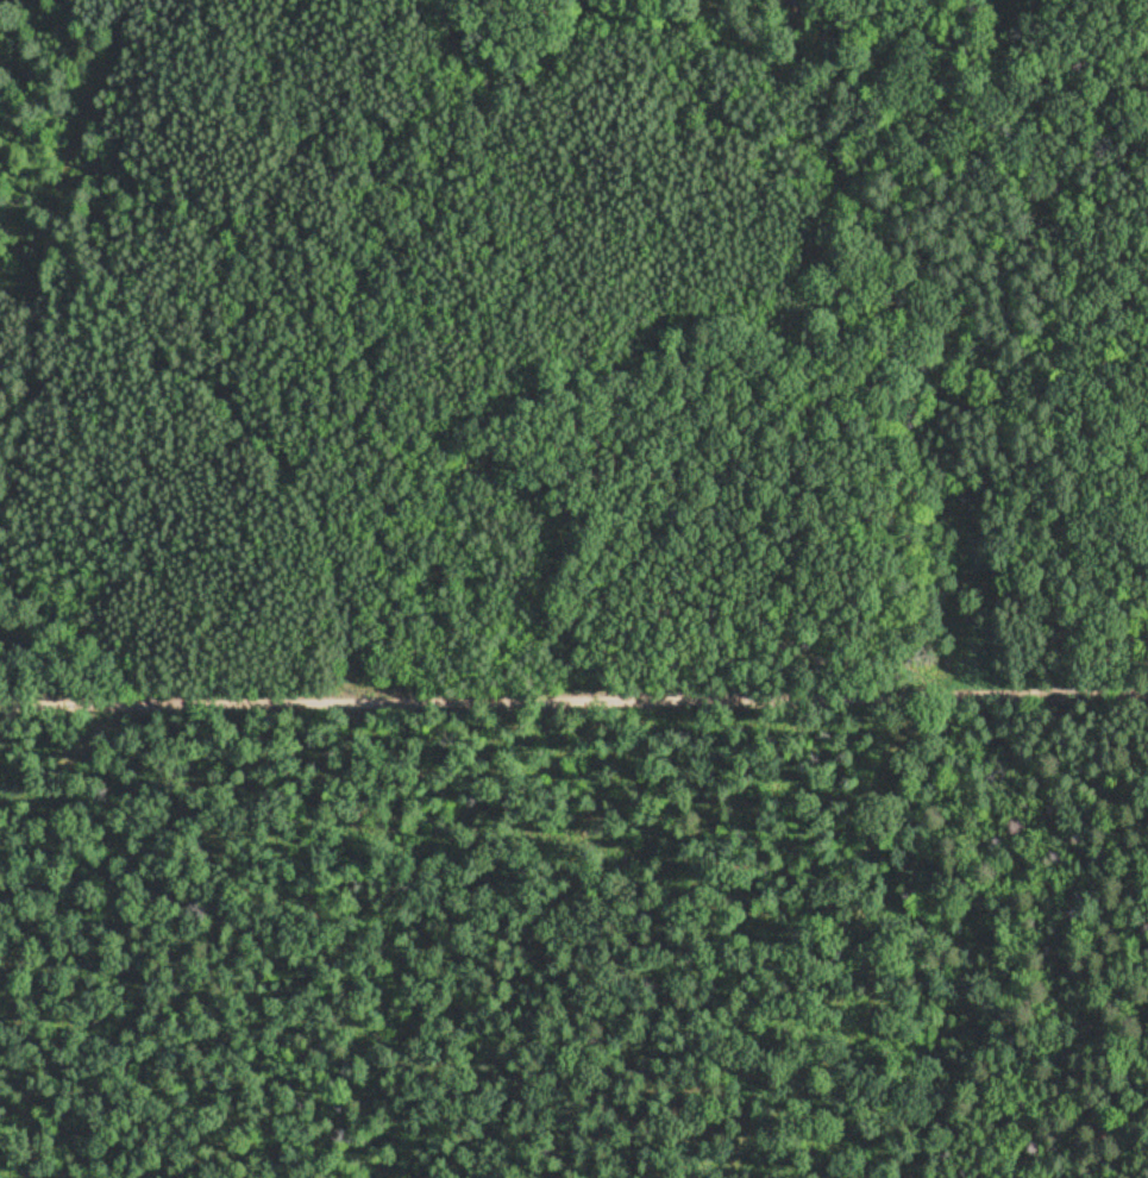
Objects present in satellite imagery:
road: (573, 703)

